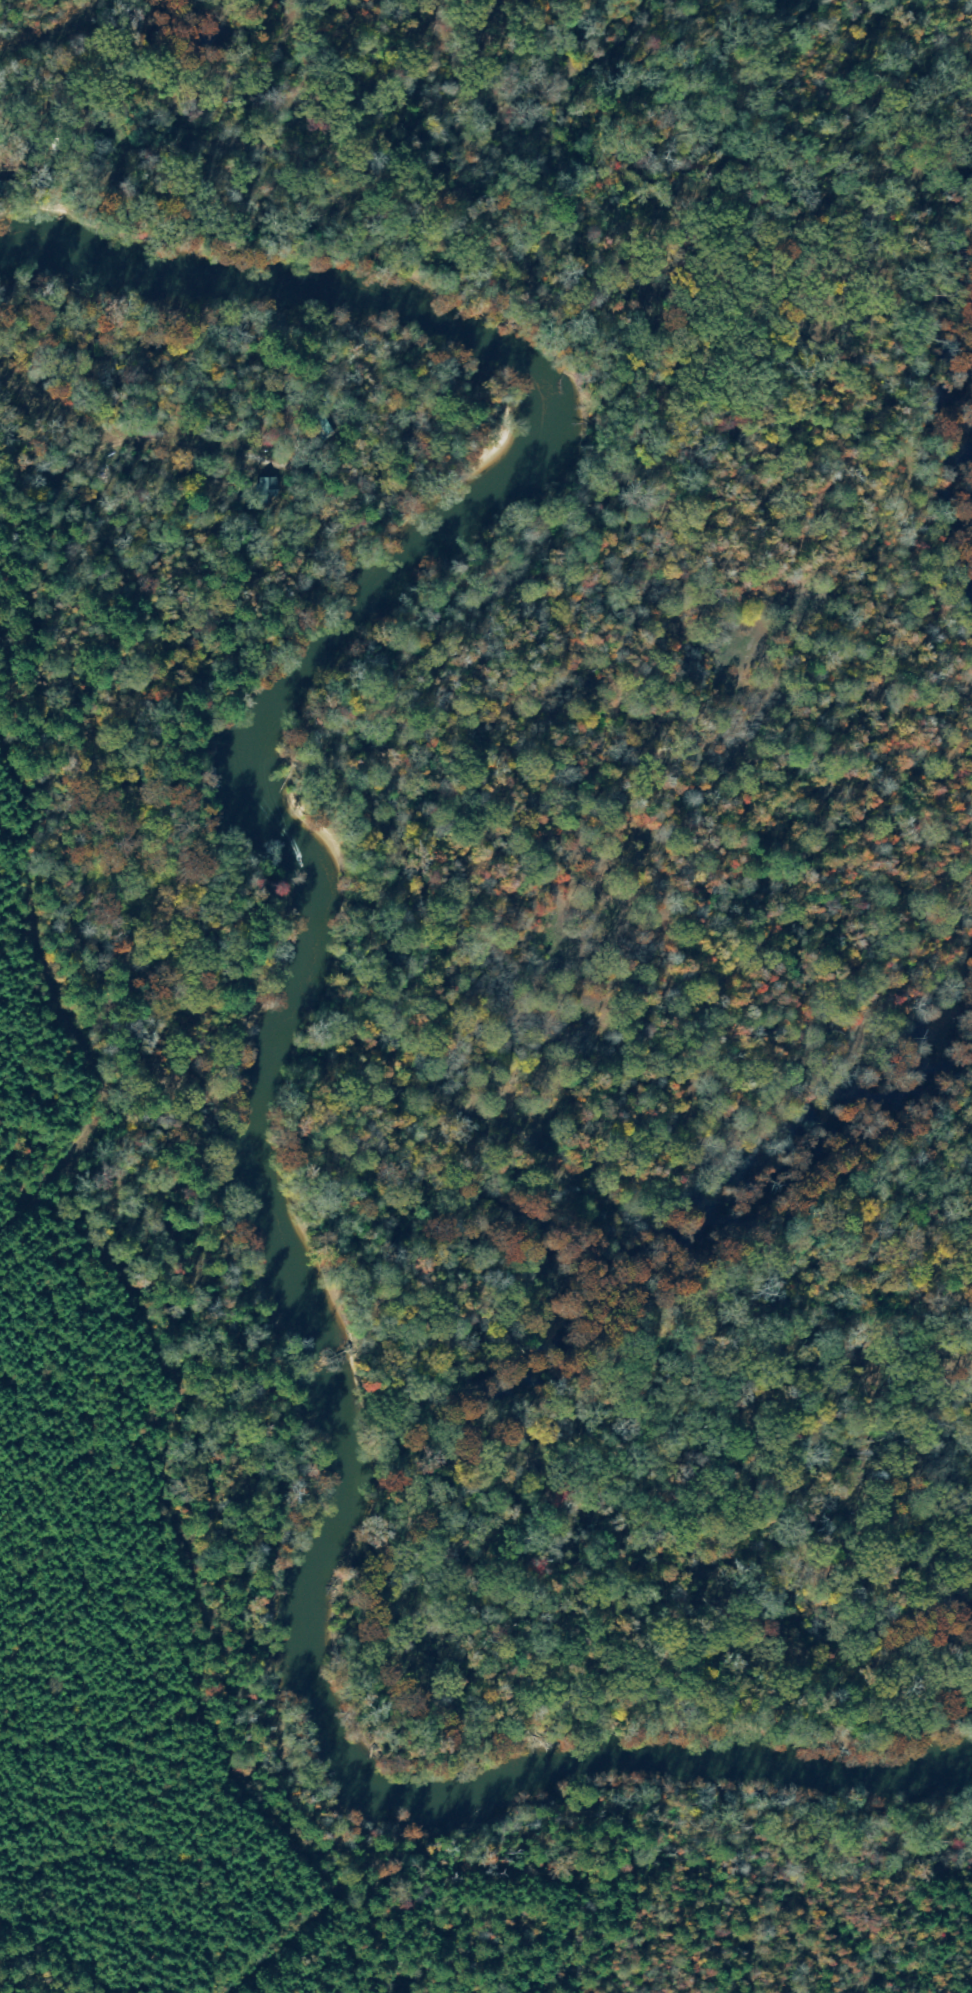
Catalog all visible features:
road: (65, 48)
river: (270, 1045)

